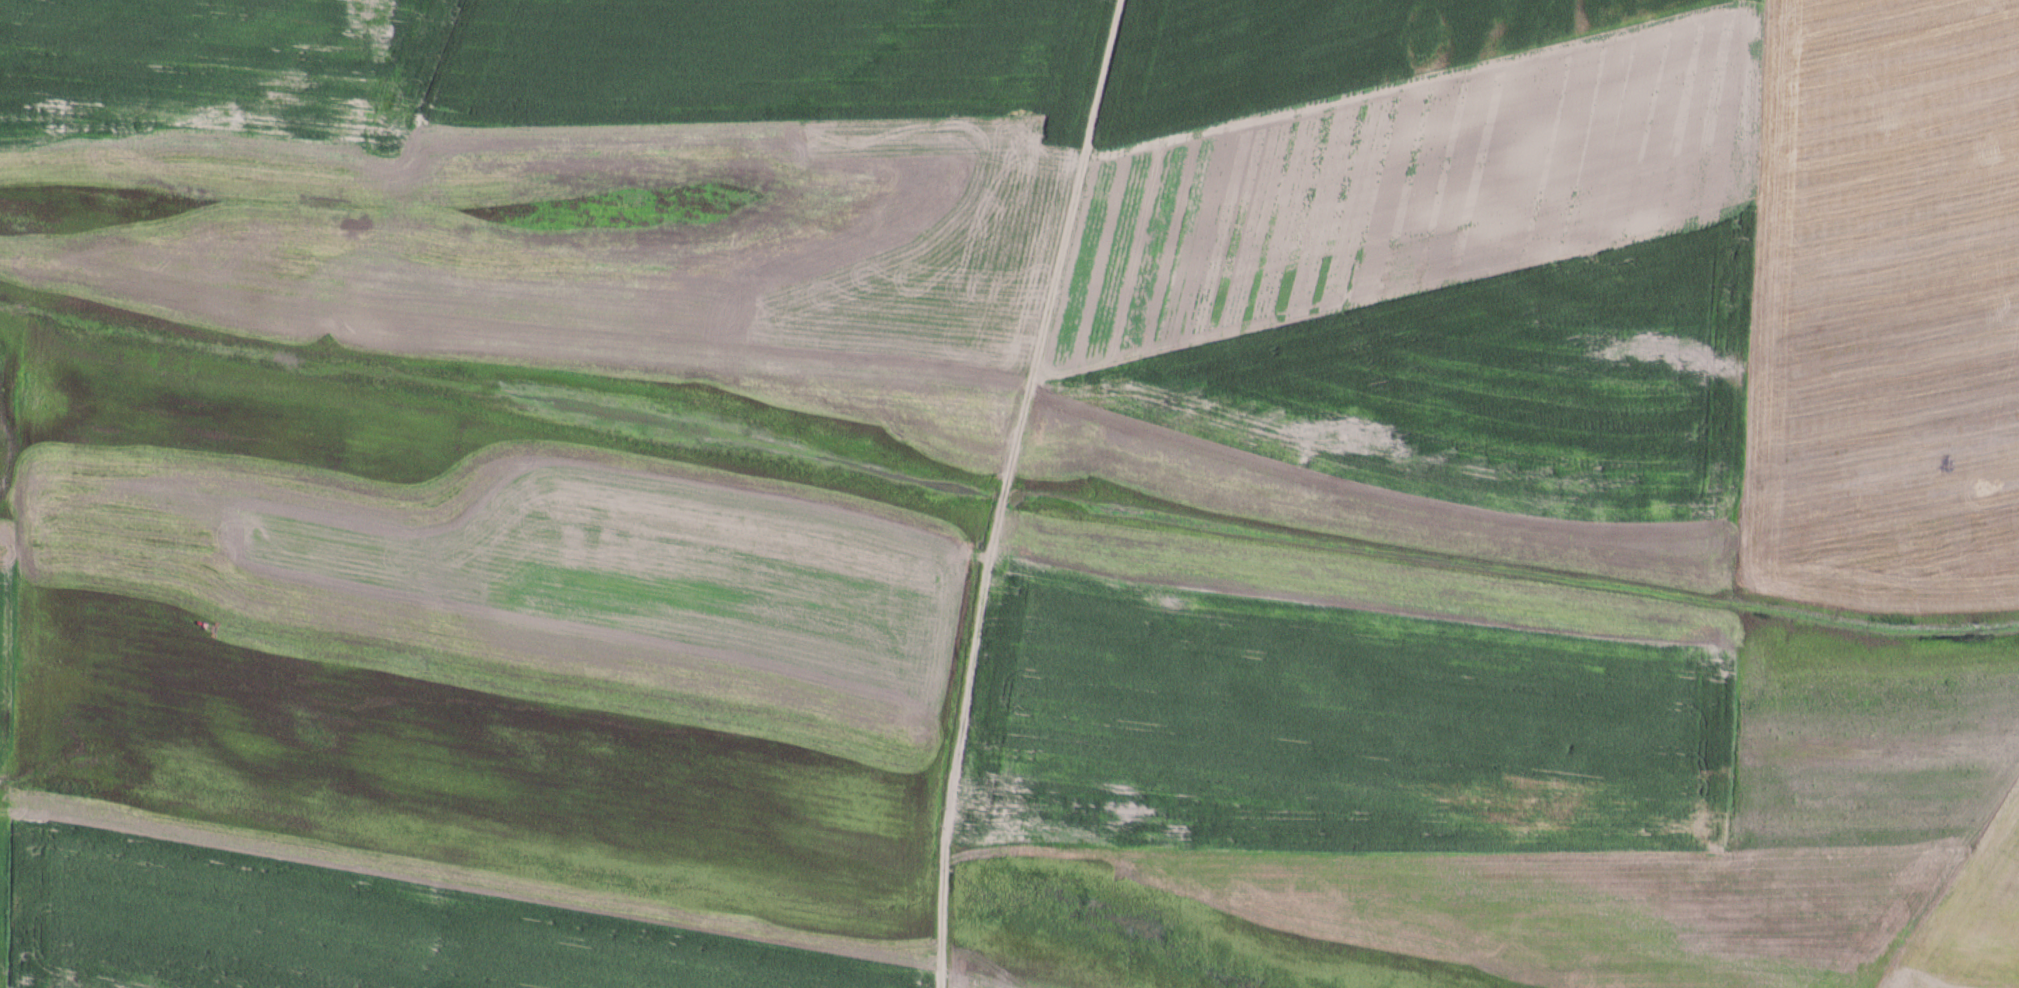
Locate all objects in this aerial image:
road: (1005, 490)

